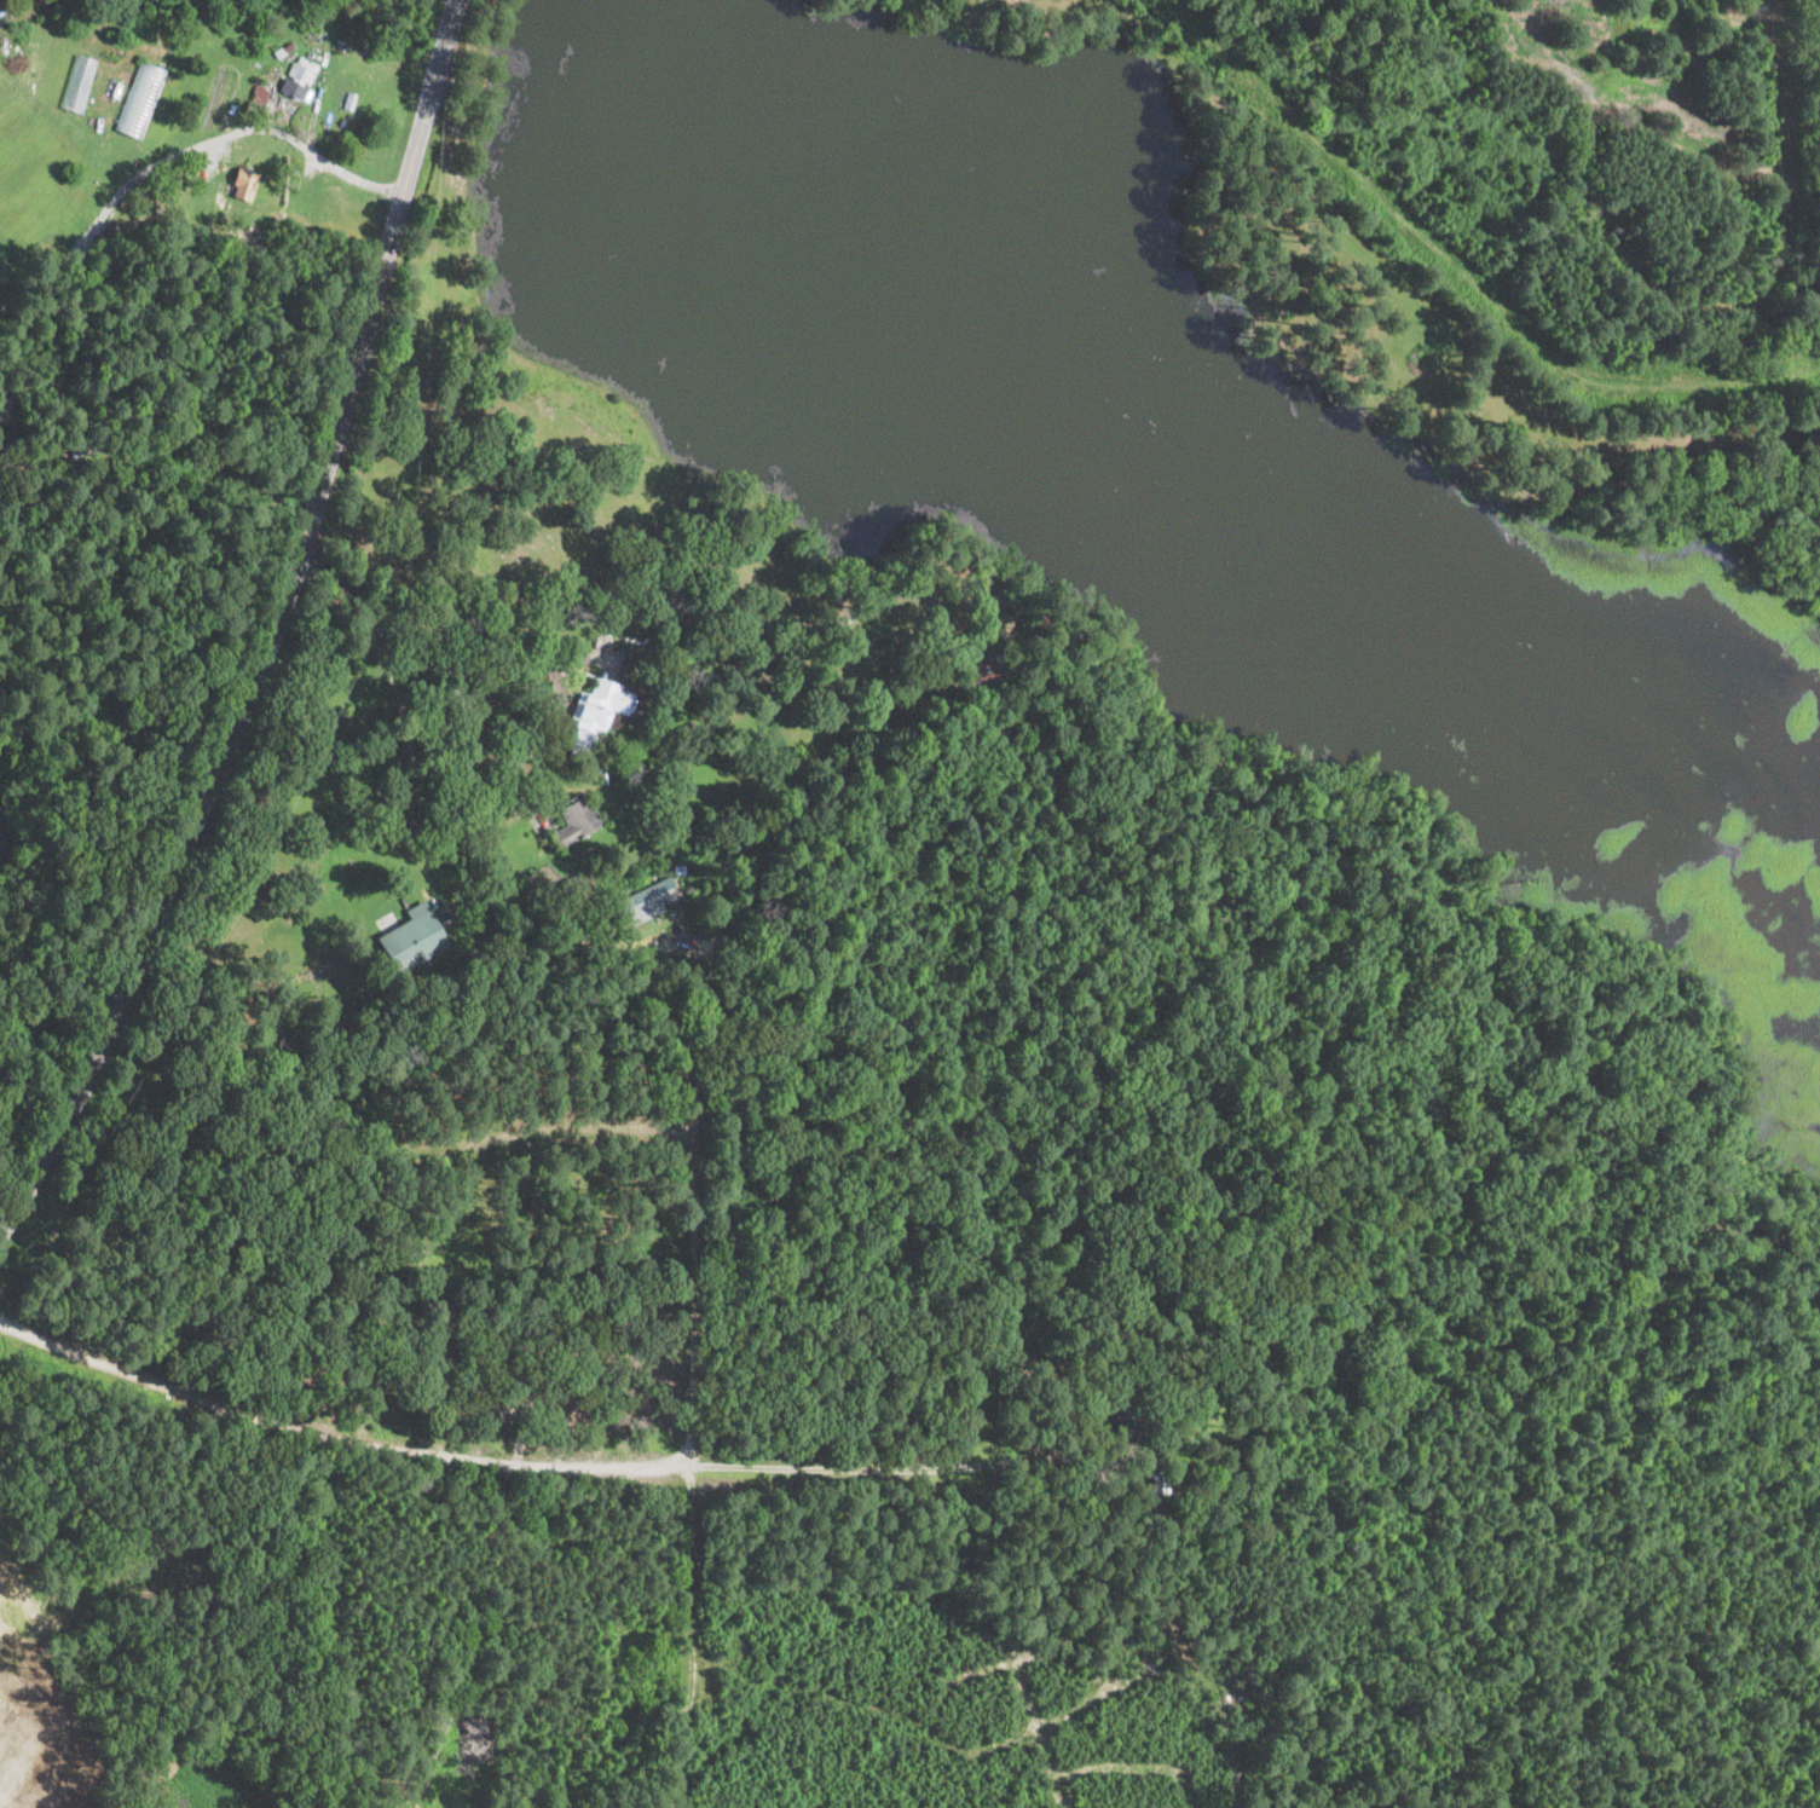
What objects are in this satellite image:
building: (1446, 13)
building: (311, 31)
building: (233, 42)
building: (284, 51)
building: (299, 80)
building: (1336, 80)
building: (141, 98)
building: (351, 102)
building: (260, 105)
road: (275, 141)
building: (243, 183)
building: (10, 438)
building: (894, 549)
building: (854, 576)
building: (753, 588)
building: (545, 613)
road: (273, 632)
building: (628, 641)
building: (618, 643)
road: (453, 646)
building: (996, 670)
building: (596, 716)
road: (486, 743)
building: (576, 821)
building: (678, 870)
building: (576, 883)
building: (551, 891)
building: (643, 902)
building: (412, 938)
building: (1123, 1408)
building: (1163, 1462)
building: (1160, 1494)

